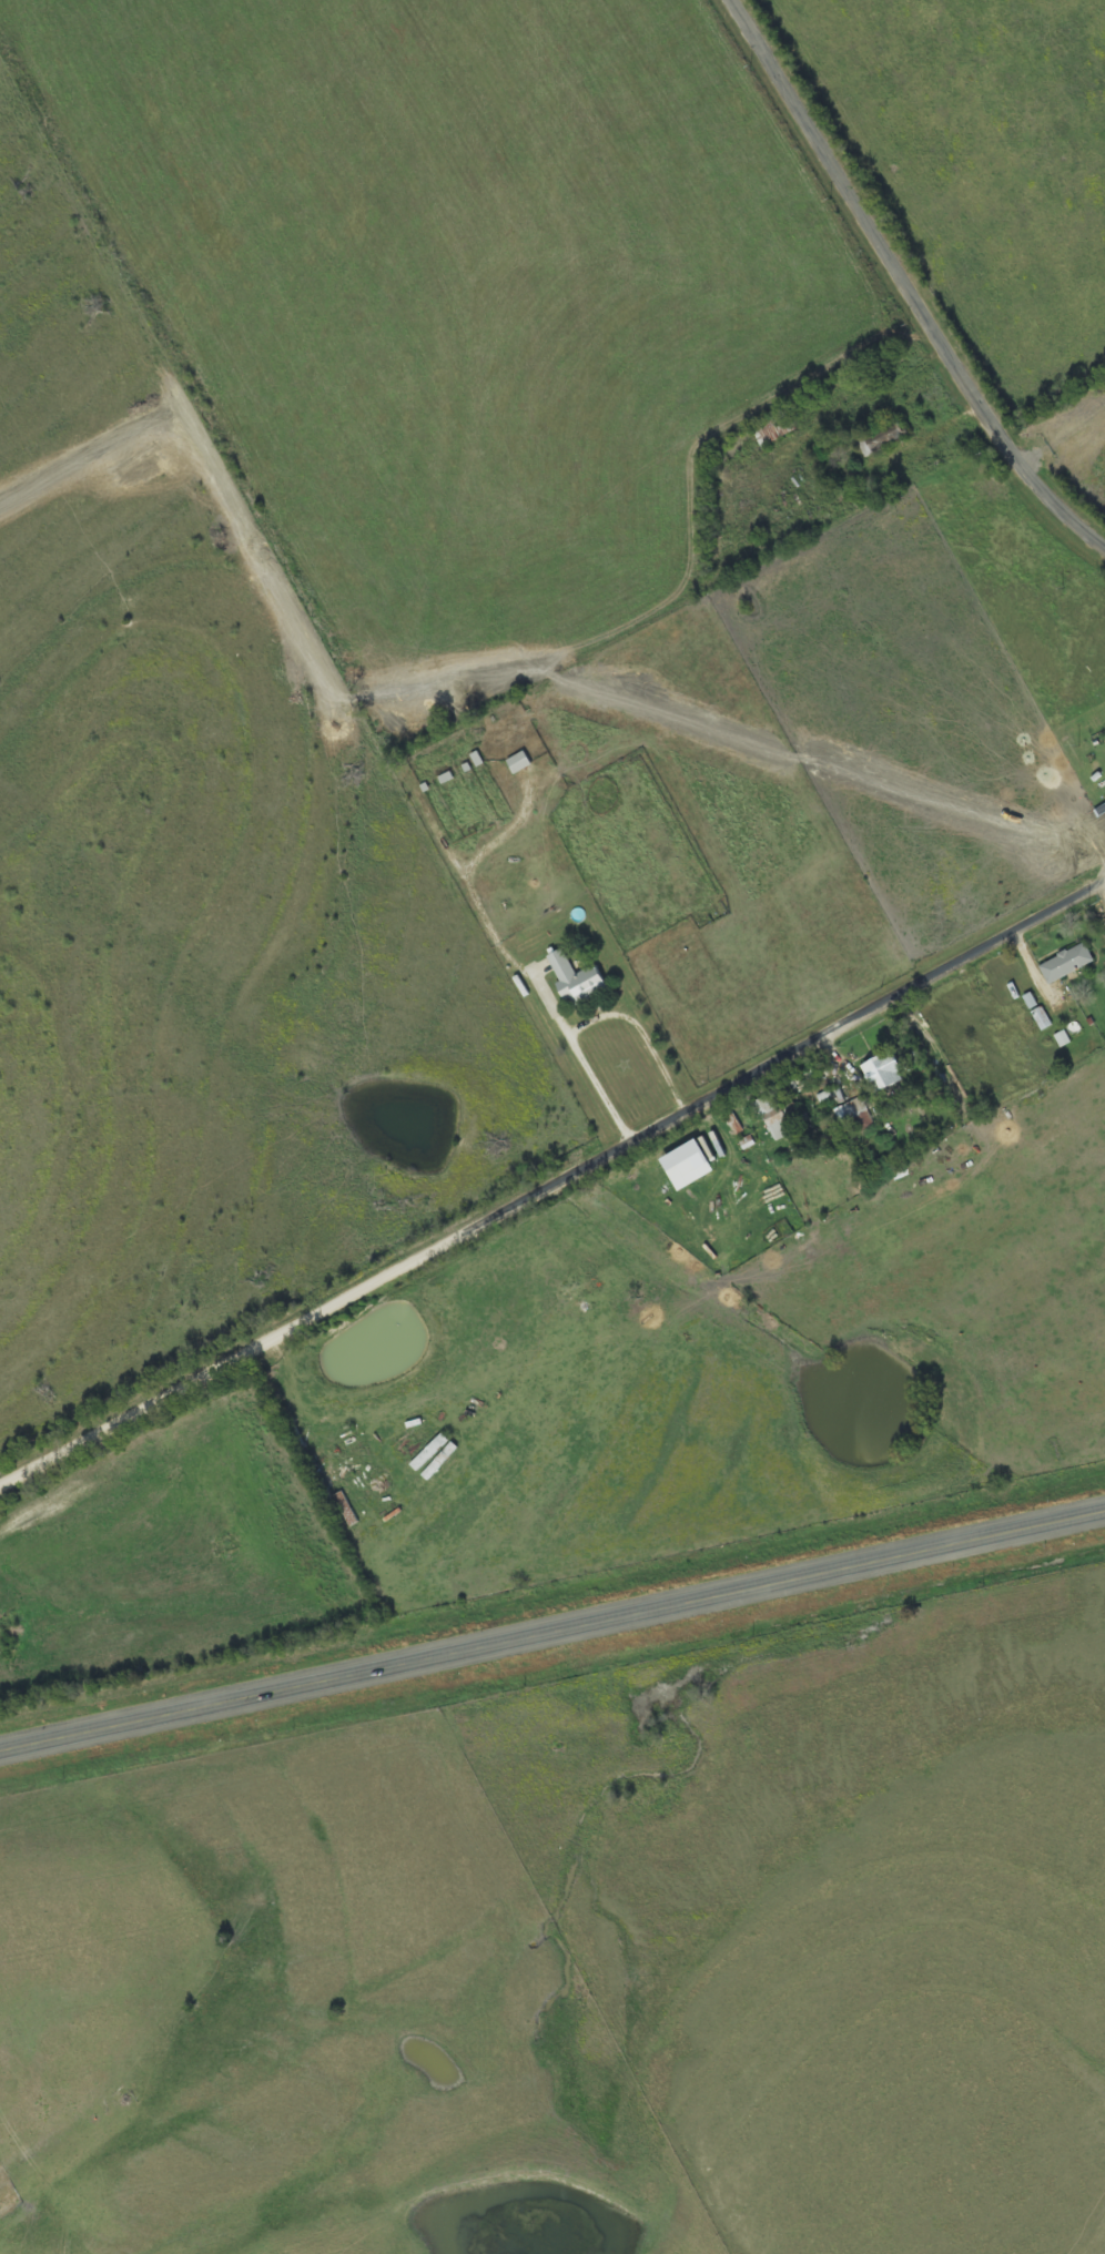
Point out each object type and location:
road: (899, 290)
building: (477, 760)
building: (518, 763)
building: (446, 779)
building: (1099, 812)
building: (1067, 964)
building: (576, 979)
building: (1031, 1002)
building: (1042, 1019)
building: (1063, 1039)
building: (882, 1074)
building: (856, 1115)
building: (773, 1117)
building: (734, 1126)
building: (687, 1166)
road: (554, 1186)
road: (552, 1629)

